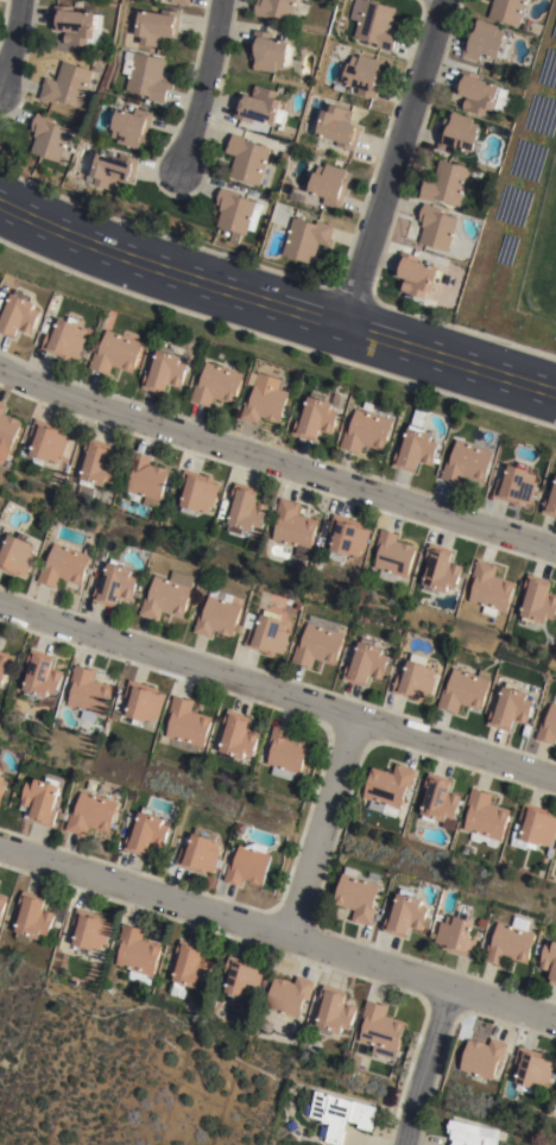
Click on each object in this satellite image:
building: (182, 1)
building: (274, 7)
building: (507, 8)
building: (74, 23)
building: (374, 23)
building: (157, 24)
road: (10, 37)
building: (482, 38)
building: (270, 50)
building: (362, 72)
building: (147, 74)
building: (67, 83)
road: (201, 87)
building: (481, 91)
building: (261, 103)
building: (129, 124)
building: (339, 124)
building: (457, 132)
building: (48, 135)
building: (247, 157)
road: (394, 165)
building: (110, 166)
building: (444, 181)
building: (330, 183)
building: (236, 210)
building: (435, 226)
building: (225, 232)
building: (234, 235)
building: (307, 236)
building: (416, 272)
road: (274, 308)
building: (18, 314)
building: (65, 337)
building: (116, 352)
building: (165, 369)
building: (217, 384)
building: (265, 398)
building: (315, 417)
building: (7, 430)
building: (366, 431)
building: (46, 441)
building: (416, 448)
road: (276, 462)
building: (467, 462)
building: (95, 467)
building: (145, 479)
building: (516, 485)
building: (197, 492)
building: (550, 502)
building: (246, 508)
building: (292, 524)
building: (348, 536)
building: (15, 553)
building: (393, 557)
building: (63, 565)
building: (438, 569)
building: (115, 583)
building: (489, 586)
building: (168, 595)
building: (537, 599)
building: (217, 614)
building: (266, 633)
building: (318, 641)
building: (4, 662)
building: (367, 664)
building: (40, 673)
building: (416, 681)
building: (465, 690)
building: (88, 692)
road: (276, 692)
building: (139, 702)
building: (510, 708)
building: (188, 722)
building: (548, 725)
building: (238, 735)
building: (285, 753)
building: (1, 786)
building: (386, 789)
building: (438, 799)
building: (40, 802)
building: (91, 814)
building: (484, 818)
road: (322, 824)
building: (533, 825)
building: (146, 833)
building: (198, 852)
building: (249, 865)
building: (359, 892)
building: (2, 905)
building: (406, 915)
building: (32, 918)
road: (278, 928)
building: (89, 931)
building: (456, 937)
building: (511, 942)
building: (137, 954)
building: (549, 962)
building: (189, 970)
building: (242, 978)
building: (289, 997)
building: (336, 1012)
building: (380, 1030)
building: (482, 1058)
road: (425, 1065)
building: (532, 1070)
building: (340, 1116)
building: (290, 1125)
building: (473, 1134)

